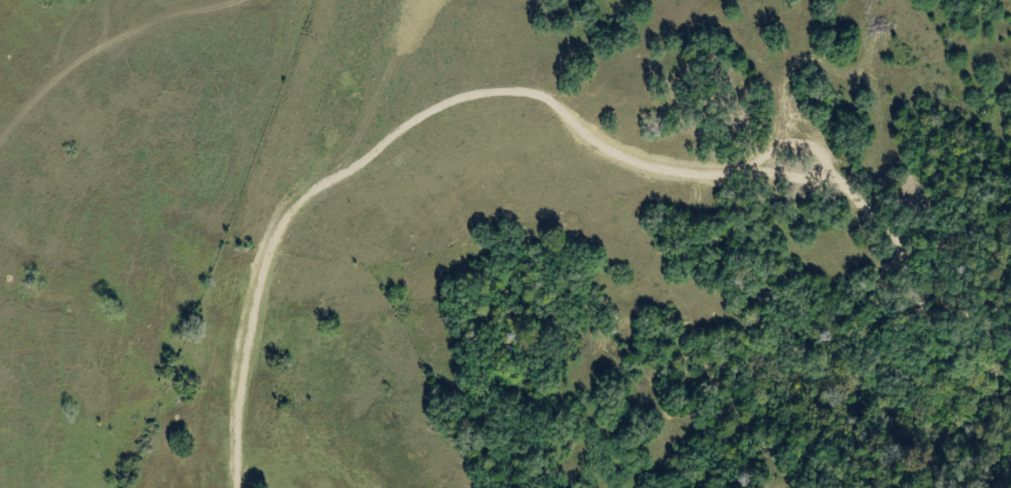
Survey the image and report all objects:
road: (107, 39)

